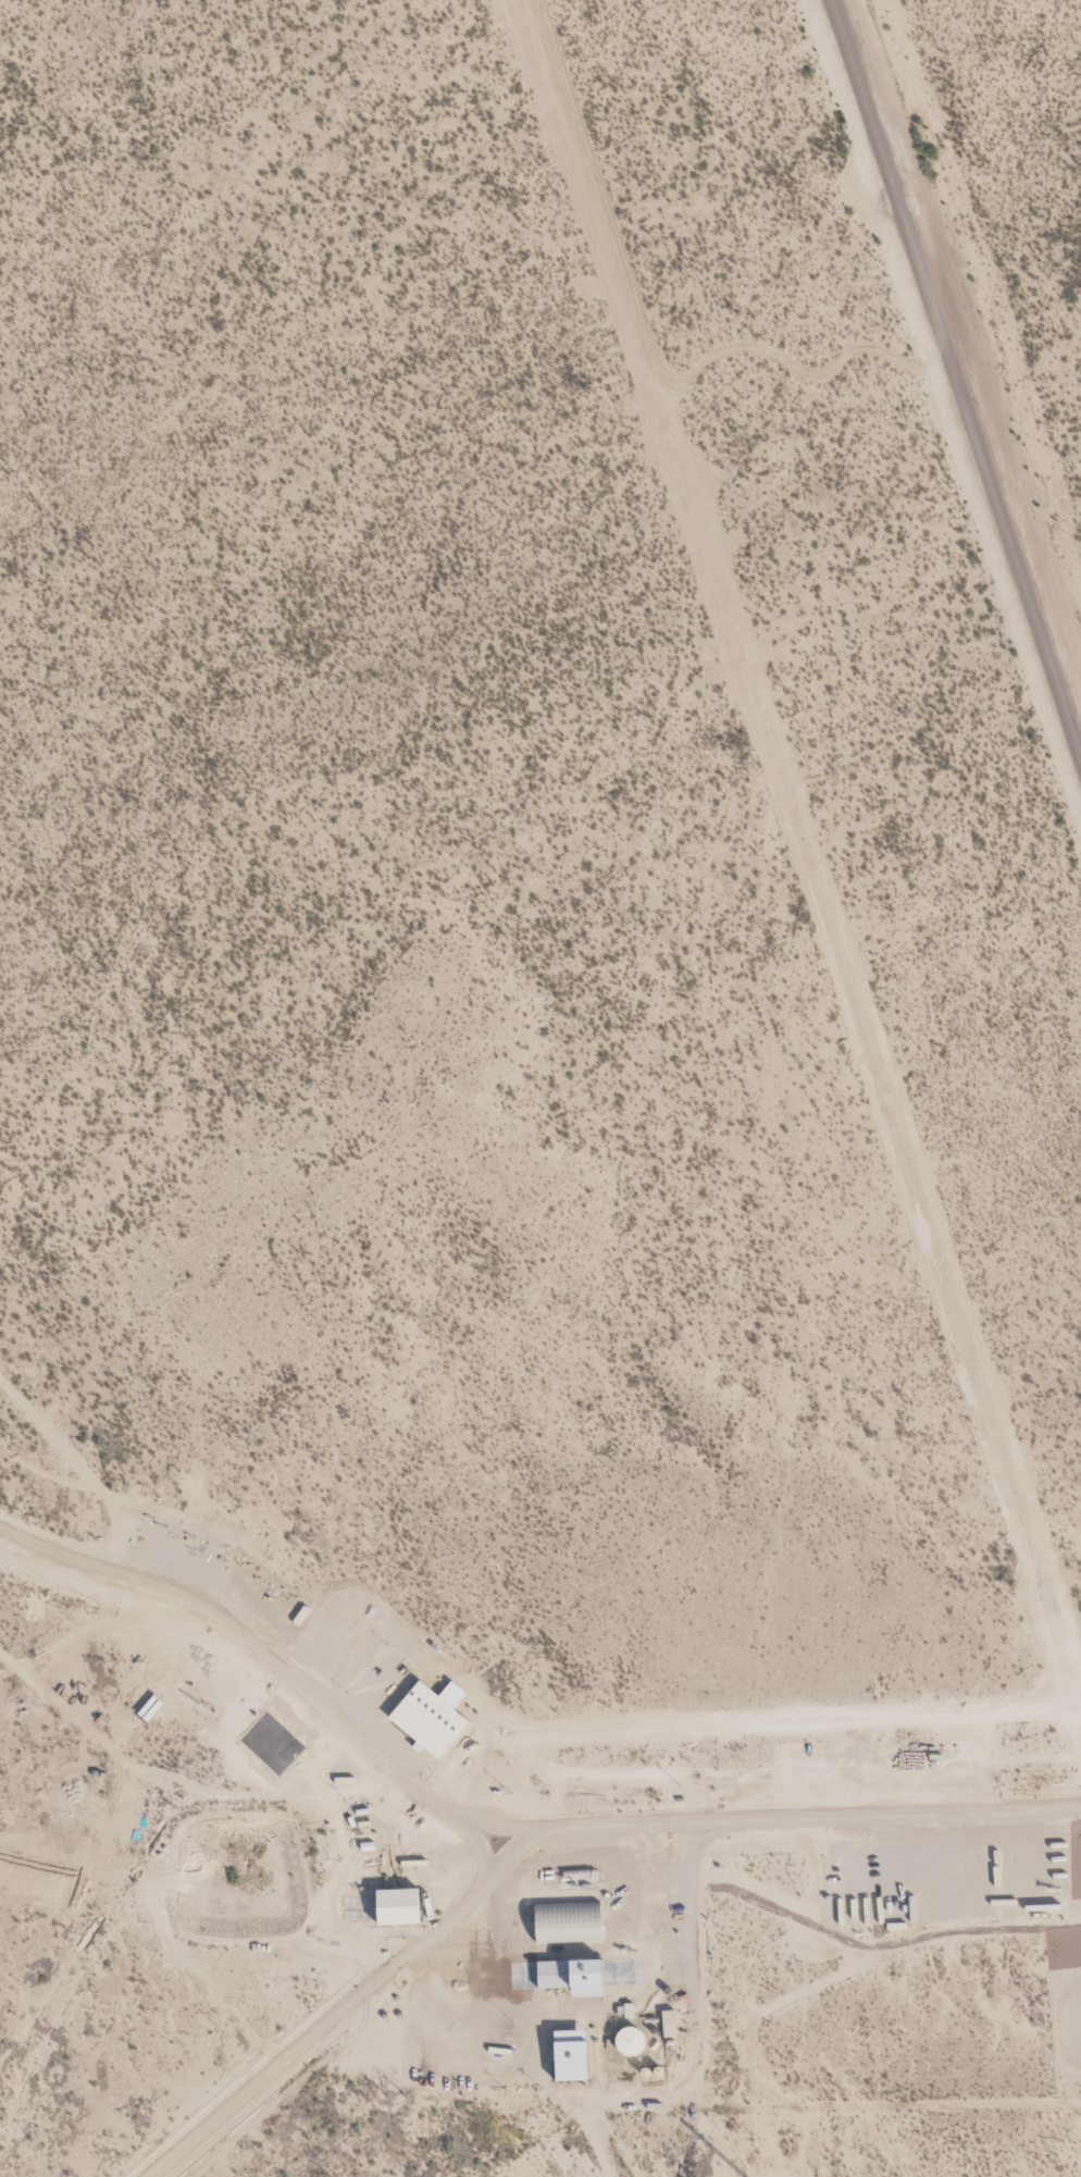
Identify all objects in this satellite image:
road: (957, 376)
road: (377, 1759)
road: (688, 1821)
building: (396, 1900)
airport hangar: (566, 1915)
building: (566, 1915)
building: (572, 1969)
road: (340, 2004)
building: (630, 2033)
storage tank: (630, 2033)

